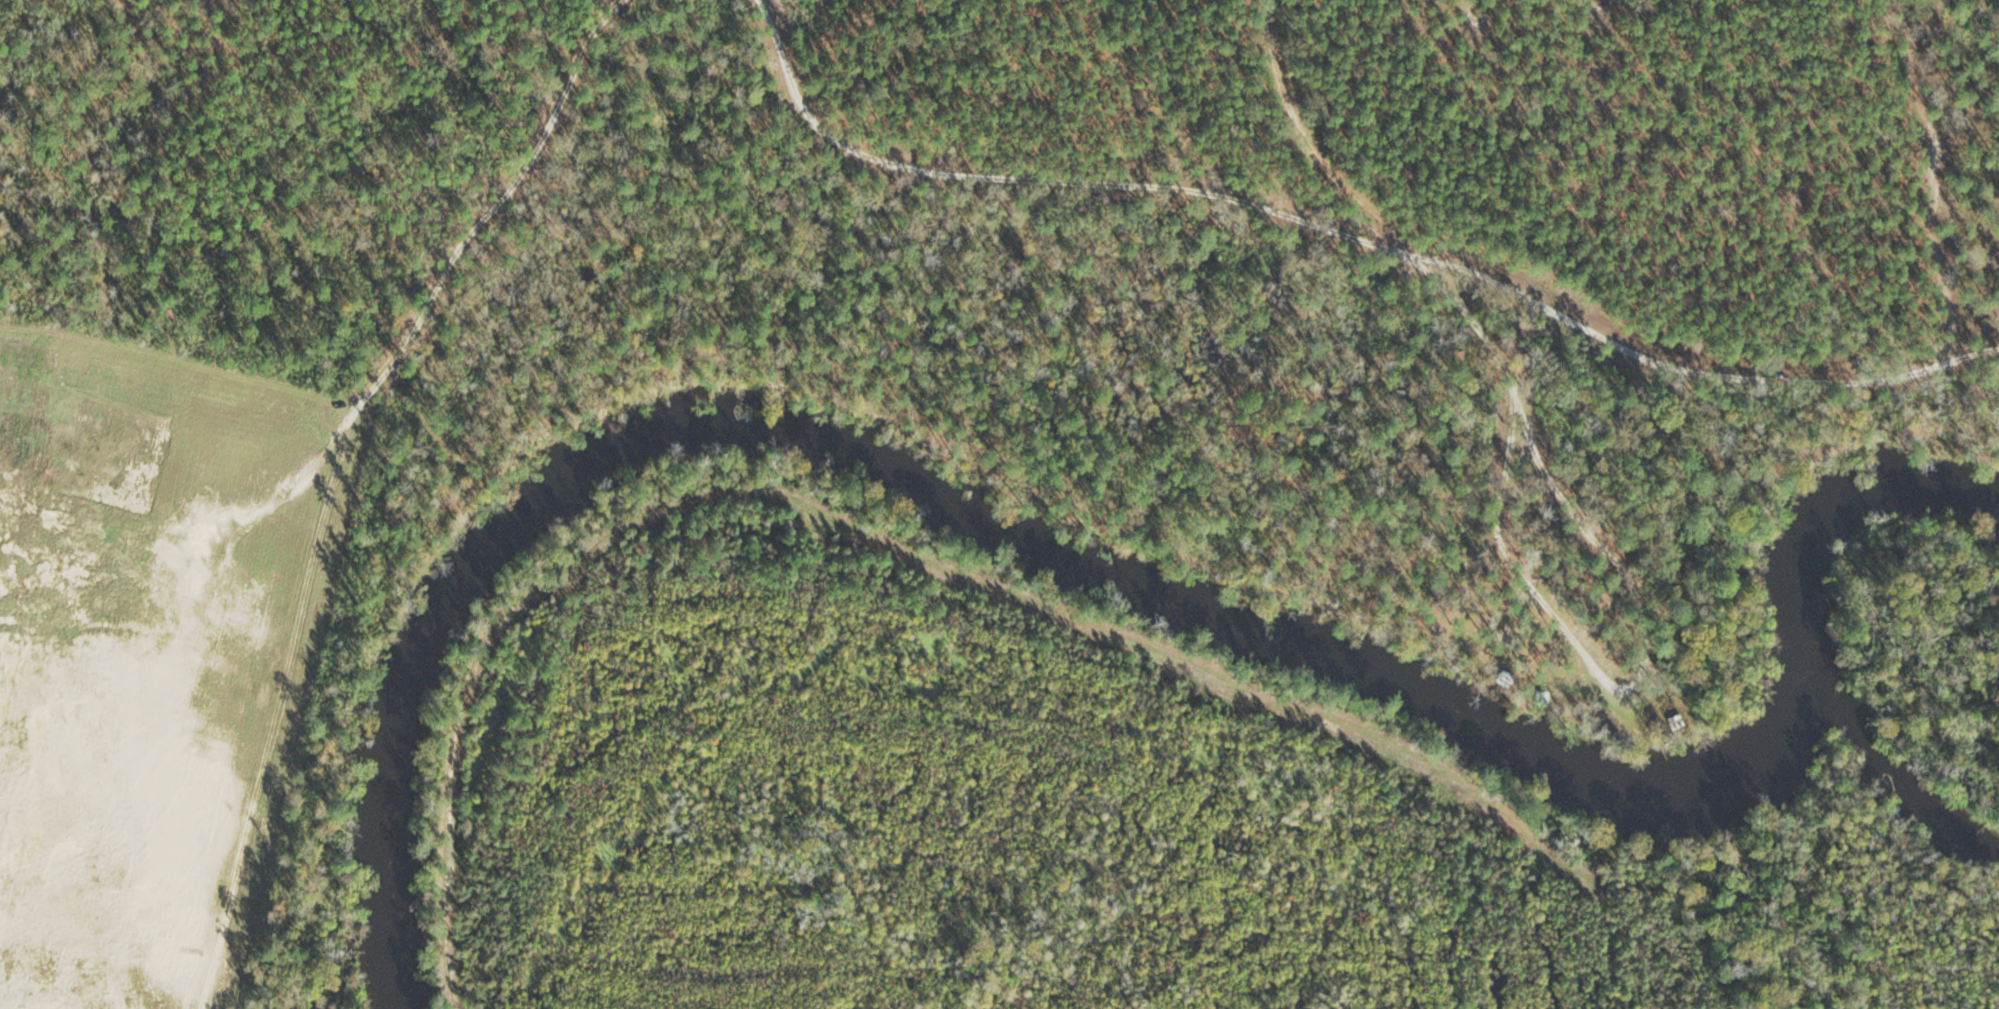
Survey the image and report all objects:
airport: (927, 352)
river: (1096, 567)
building: (1545, 698)

